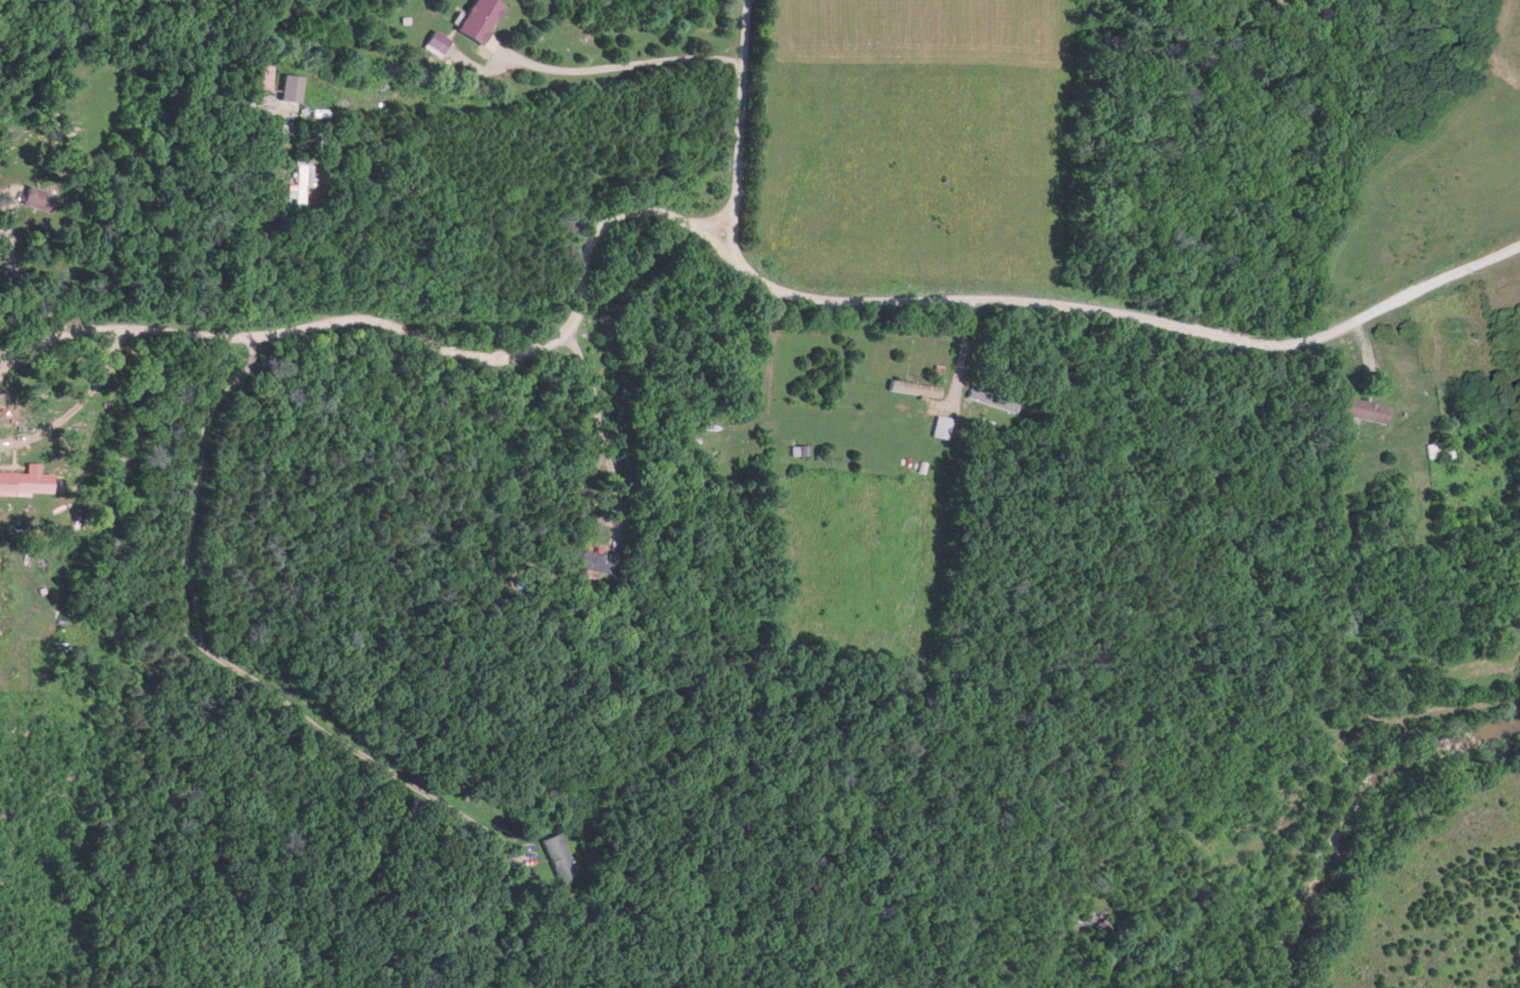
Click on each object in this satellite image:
building: (475, 19)
road: (607, 68)
road: (737, 130)
building: (297, 182)
building: (33, 196)
road: (722, 251)
building: (911, 385)
building: (989, 396)
building: (1360, 407)
building: (939, 425)
road: (589, 437)
building: (1437, 448)
building: (24, 481)
building: (591, 559)
building: (554, 858)

